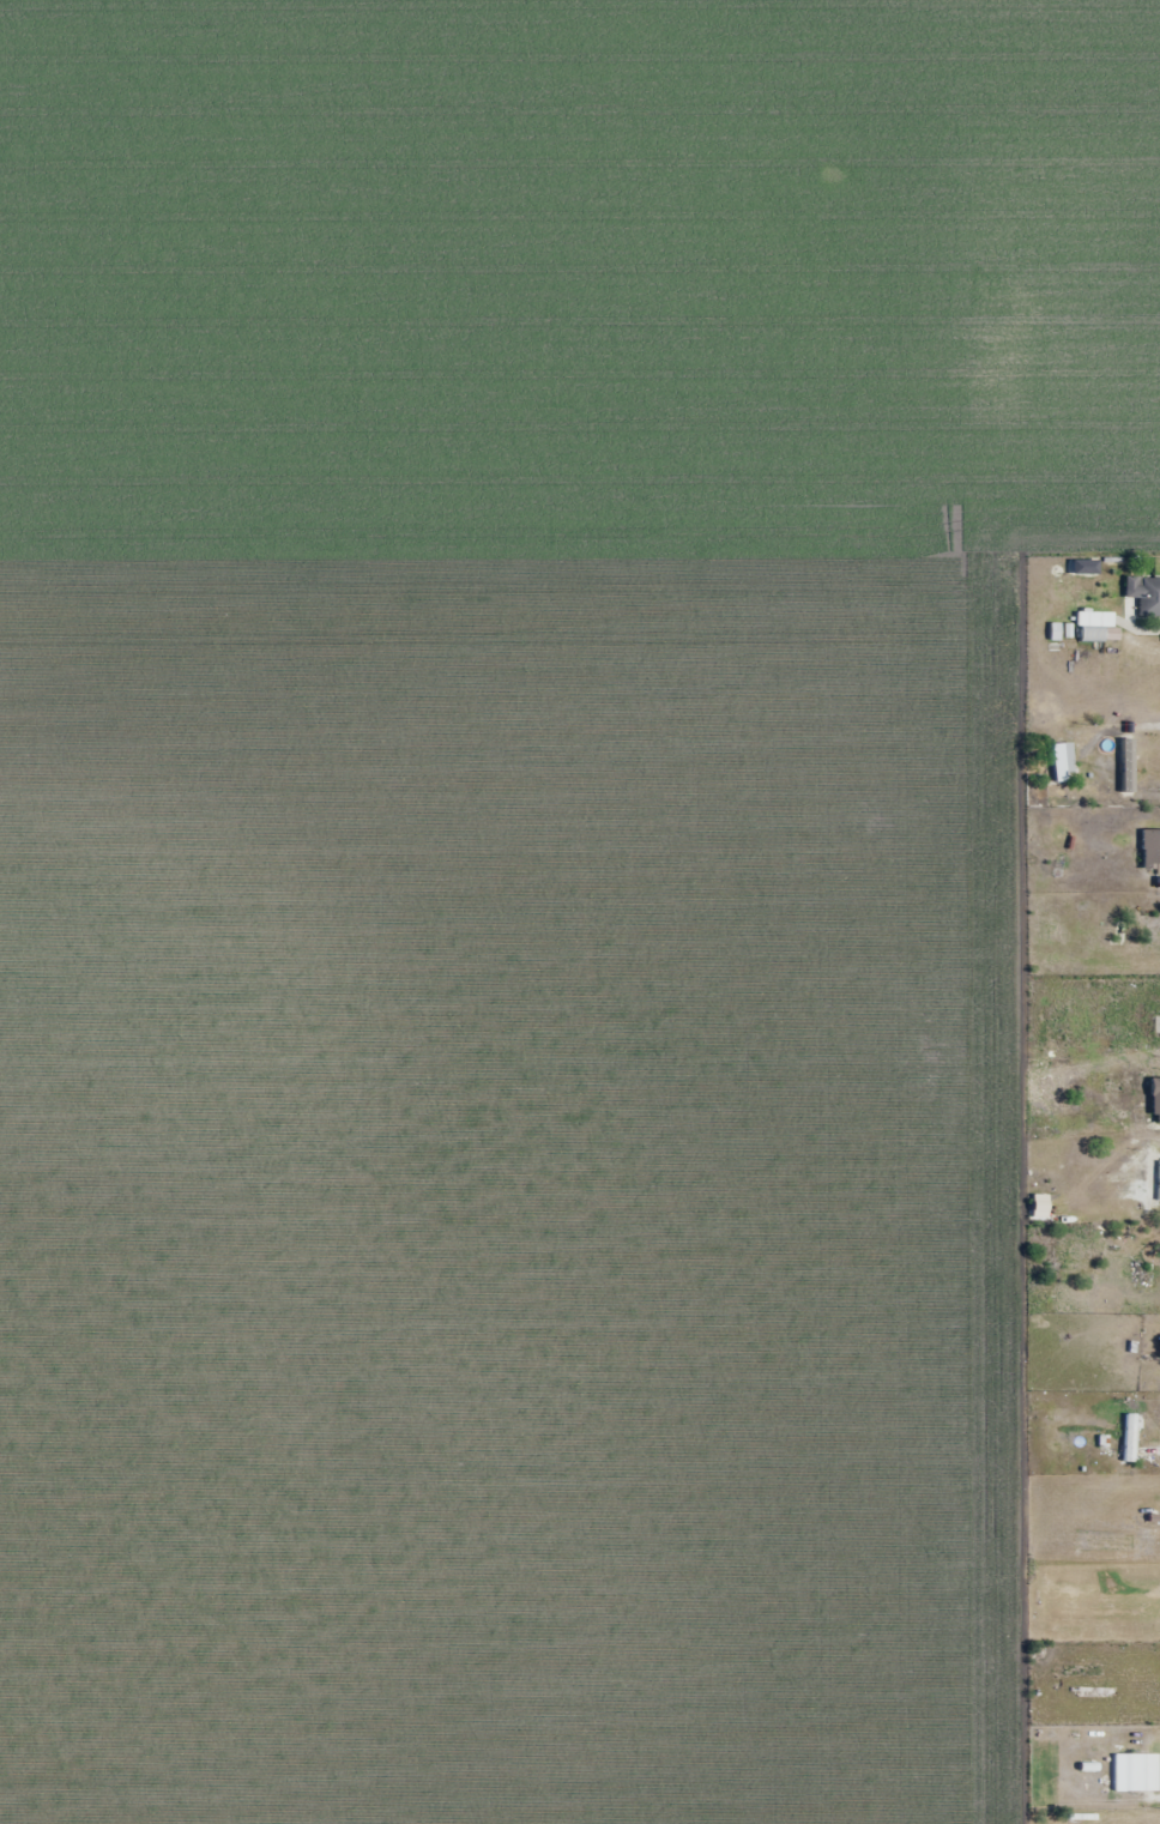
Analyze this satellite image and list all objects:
building: (1149, 597)
building: (1094, 626)
building: (1059, 761)
building: (1152, 930)
building: (1156, 1160)
building: (1130, 1438)
building: (1134, 1772)

